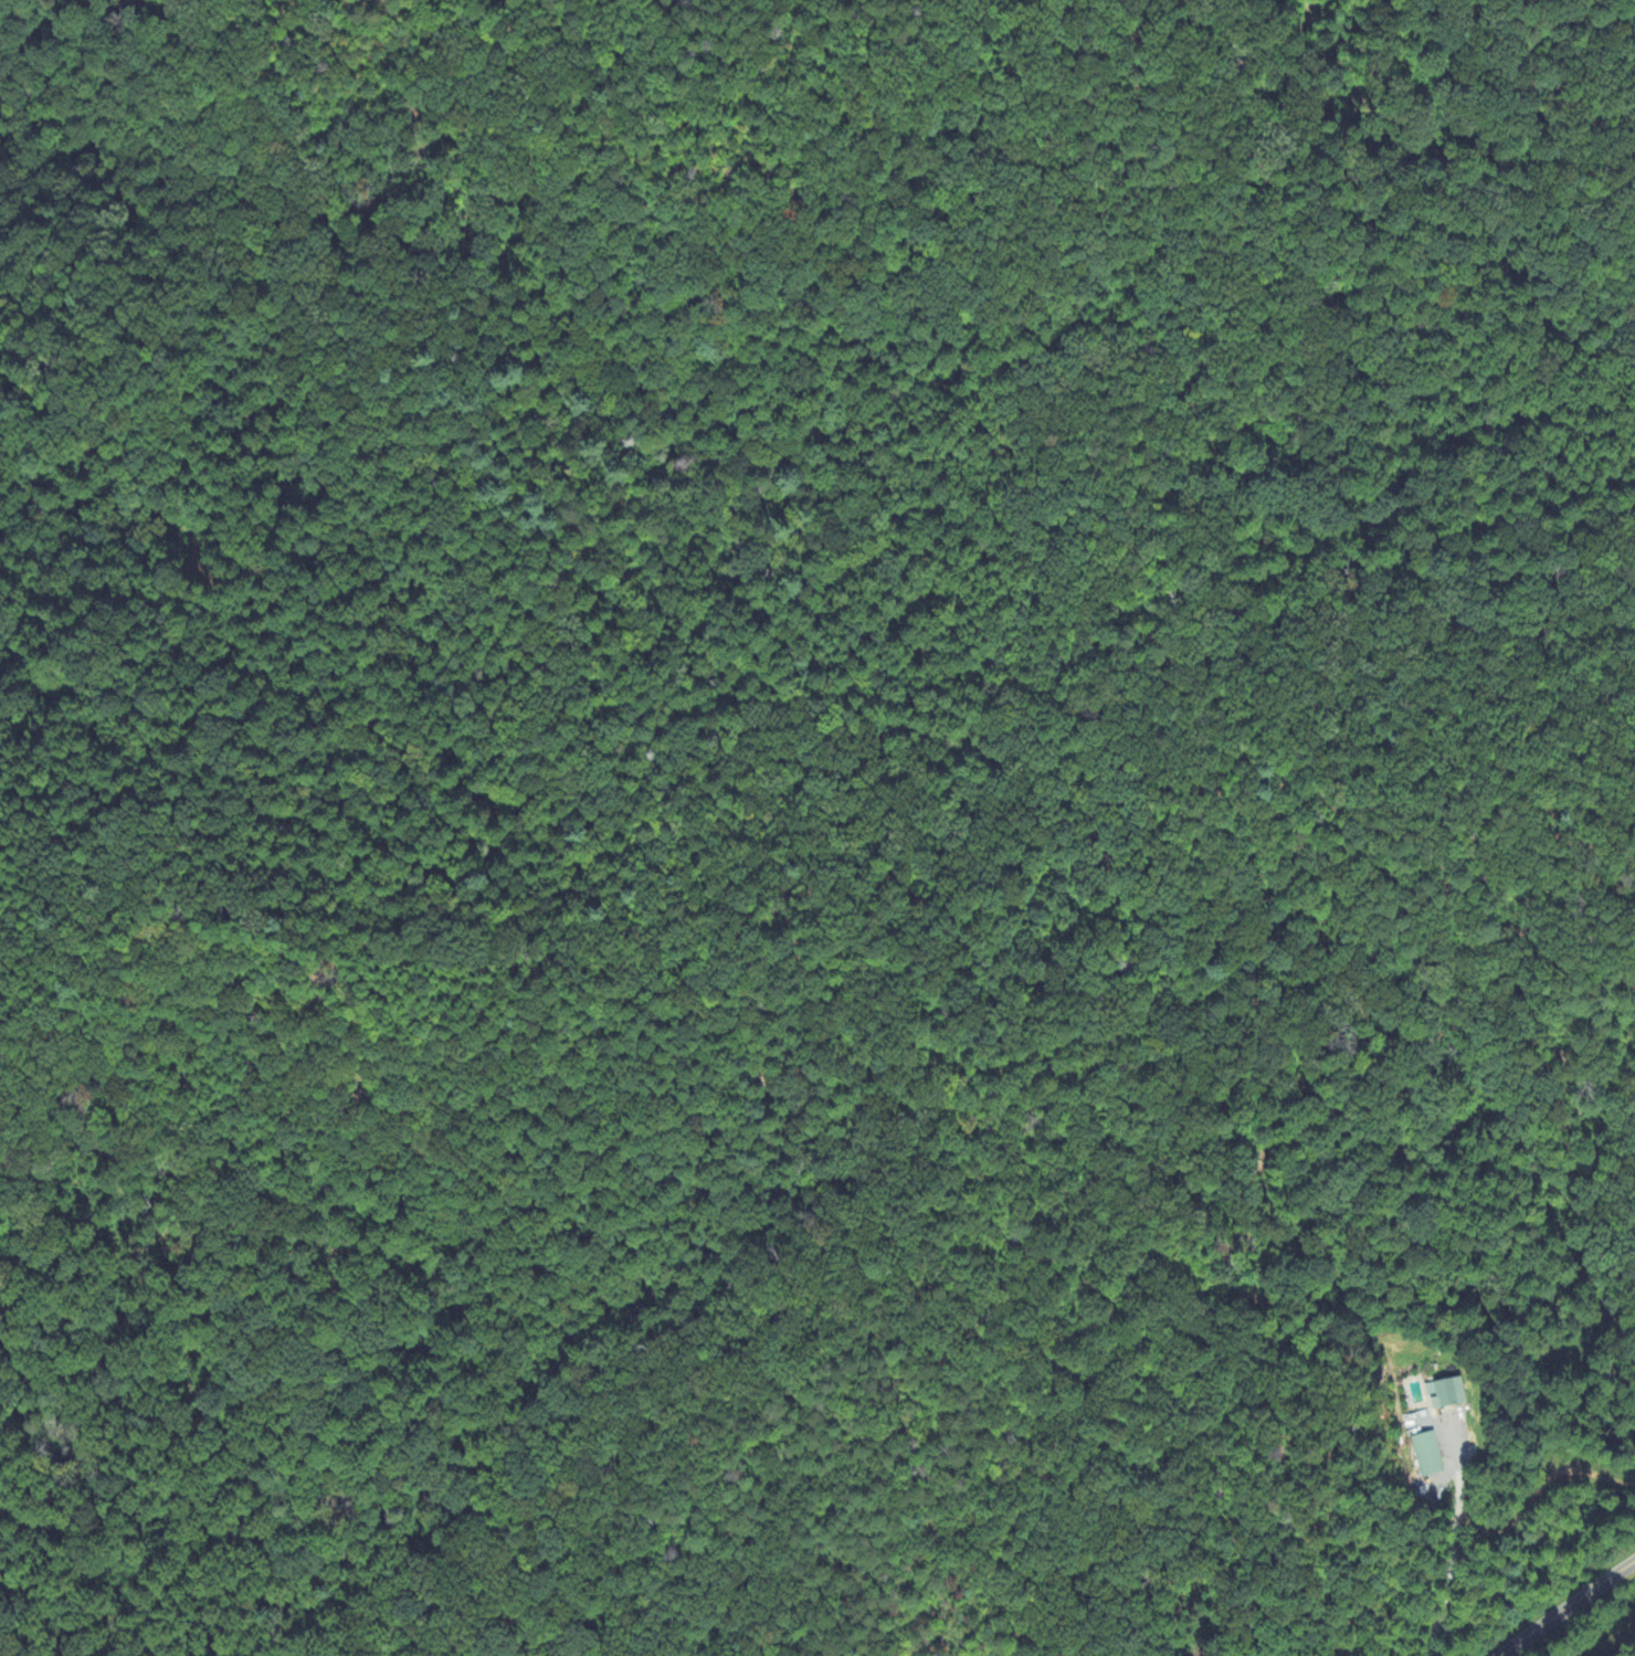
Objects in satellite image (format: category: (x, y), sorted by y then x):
building: (1449, 1394)
building: (1426, 1456)
road: (1456, 1549)
road: (1562, 1612)

